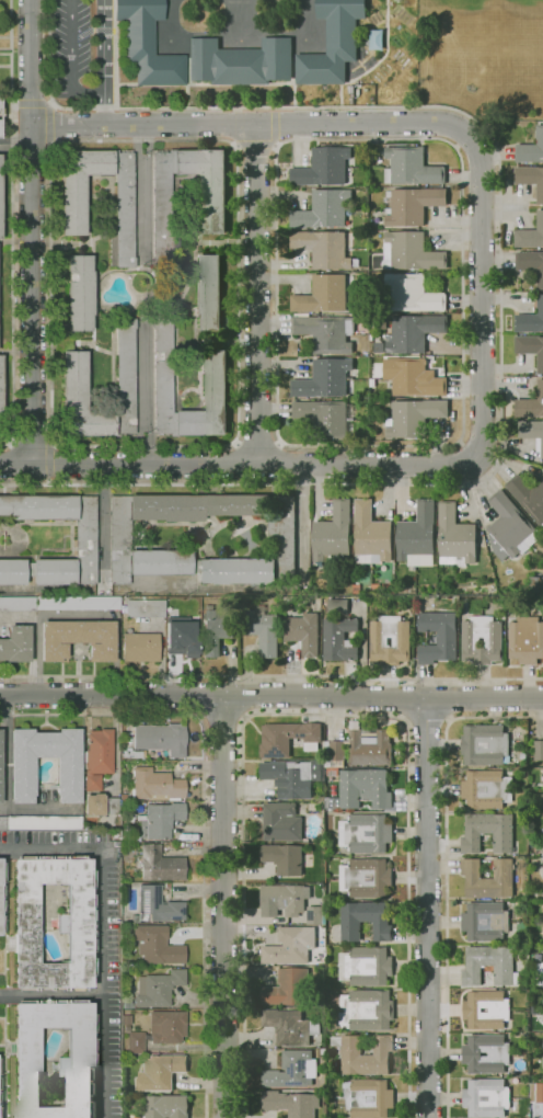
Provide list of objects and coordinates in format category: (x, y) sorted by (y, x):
building: (374, 39)
building: (367, 43)
building: (147, 44)
building: (332, 44)
road: (72, 60)
road: (104, 61)
building: (240, 62)
building: (350, 90)
road: (32, 102)
building: (0, 118)
road: (251, 124)
road: (15, 140)
road: (255, 146)
building: (530, 149)
road: (15, 150)
road: (140, 163)
building: (324, 168)
building: (411, 168)
building: (530, 179)
building: (213, 204)
building: (72, 205)
building: (412, 206)
building: (0, 210)
building: (323, 210)
road: (141, 213)
road: (13, 228)
road: (32, 232)
building: (530, 235)
building: (321, 248)
building: (409, 253)
building: (531, 265)
road: (499, 277)
building: (441, 287)
building: (207, 293)
building: (79, 294)
road: (255, 294)
building: (413, 294)
building: (323, 296)
building: (530, 320)
building: (413, 333)
building: (325, 334)
building: (62, 343)
building: (378, 347)
building: (530, 349)
building: (412, 378)
building: (324, 379)
building: (213, 380)
building: (73, 383)
building: (1, 400)
building: (531, 403)
building: (324, 418)
building: (414, 418)
building: (532, 433)
road: (232, 442)
road: (257, 442)
road: (459, 442)
road: (31, 444)
road: (49, 464)
road: (234, 464)
road: (401, 464)
road: (12, 465)
building: (528, 497)
building: (509, 528)
building: (332, 534)
building: (370, 535)
building: (417, 537)
building: (454, 537)
building: (85, 539)
building: (284, 544)
building: (536, 584)
building: (59, 603)
building: (338, 606)
building: (143, 608)
road: (77, 615)
building: (262, 629)
building: (215, 631)
building: (302, 632)
building: (181, 636)
building: (438, 636)
building: (78, 639)
building: (338, 639)
building: (390, 640)
building: (471, 640)
building: (525, 640)
building: (15, 644)
building: (140, 648)
road: (270, 678)
road: (271, 696)
road: (203, 698)
road: (242, 698)
road: (406, 699)
road: (446, 699)
road: (323, 715)
road: (222, 719)
road: (426, 722)
building: (288, 738)
building: (160, 739)
building: (485, 745)
building: (369, 749)
building: (539, 751)
building: (334, 753)
building: (132, 754)
building: (97, 758)
building: (0, 766)
building: (334, 772)
building: (23, 776)
building: (289, 777)
road: (5, 785)
building: (155, 785)
building: (362, 789)
building: (486, 789)
building: (101, 805)
road: (204, 818)
building: (161, 820)
building: (281, 822)
building: (3, 823)
building: (44, 823)
building: (366, 833)
building: (489, 833)
building: (282, 858)
building: (160, 864)
road: (446, 871)
building: (366, 878)
building: (488, 879)
building: (1, 898)
building: (282, 900)
building: (157, 906)
road: (222, 906)
road: (426, 909)
building: (314, 915)
building: (366, 921)
building: (485, 921)
building: (81, 923)
road: (102, 933)
building: (158, 945)
building: (290, 946)
building: (489, 966)
building: (366, 967)
building: (540, 974)
building: (159, 988)
building: (289, 989)
road: (50, 995)
building: (542, 1008)
building: (366, 1009)
building: (499, 1011)
building: (167, 1027)
building: (289, 1027)
building: (137, 1042)
building: (363, 1054)
building: (498, 1054)
building: (332, 1063)
building: (82, 1068)
building: (290, 1071)
building: (160, 1072)
building: (536, 1093)
building: (486, 1097)
building: (368, 1098)
building: (290, 1103)
building: (166, 1107)

